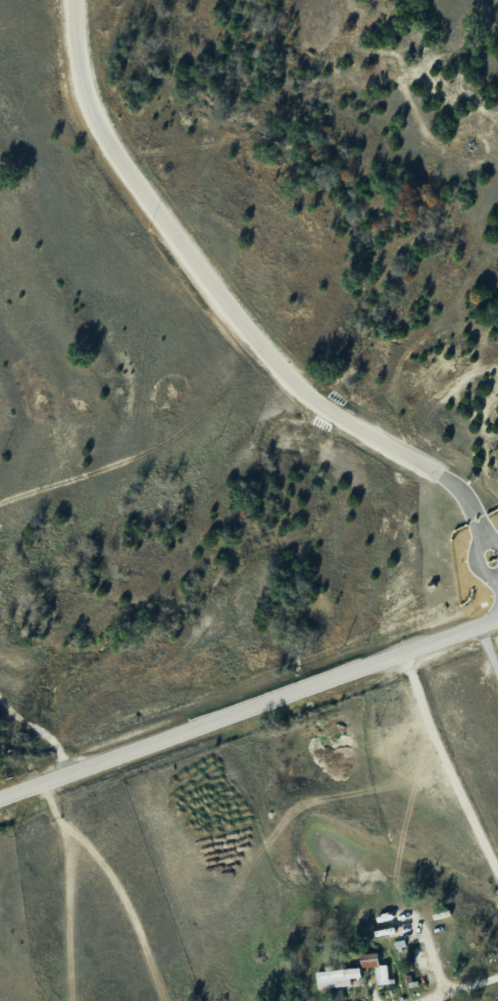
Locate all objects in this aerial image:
road: (241, 326)
road: (487, 651)
road: (248, 704)
road: (39, 733)
road: (445, 769)
road: (110, 883)
building: (374, 967)
building: (335, 978)
road: (465, 986)

